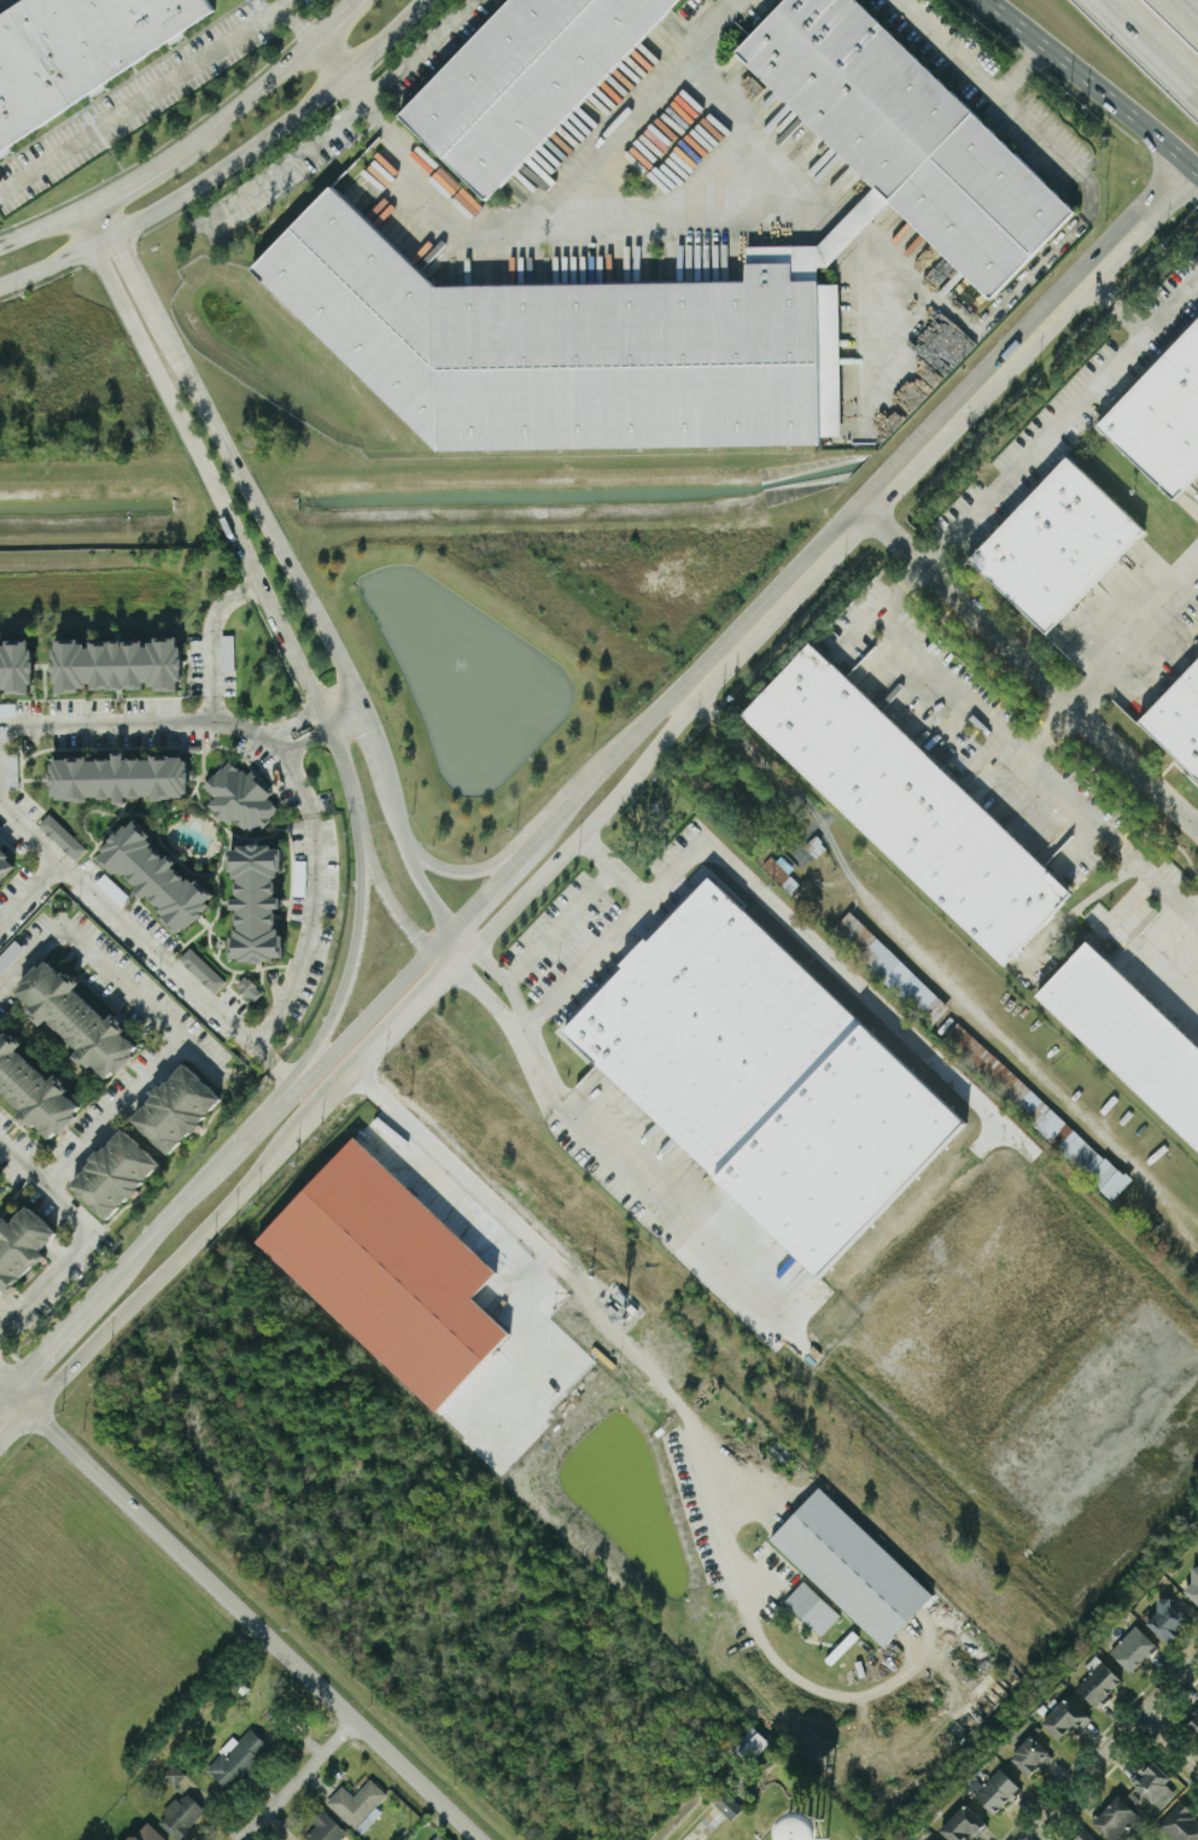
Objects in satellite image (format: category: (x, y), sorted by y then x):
road: (1181, 16)
road: (332, 19)
road: (297, 23)
road: (1162, 35)
road: (423, 42)
building: (76, 49)
road: (326, 54)
building: (522, 78)
road: (1095, 84)
road: (374, 90)
road: (144, 95)
road: (246, 99)
road: (275, 123)
building: (910, 135)
road: (286, 160)
road: (130, 180)
road: (556, 206)
road: (766, 210)
road: (101, 220)
road: (1075, 223)
road: (87, 227)
road: (42, 228)
road: (104, 240)
road: (46, 267)
building: (569, 345)
building: (1162, 416)
road: (942, 425)
road: (1012, 465)
building: (1057, 543)
road: (292, 576)
road: (265, 597)
fountain: (431, 625)
road: (1133, 631)
road: (211, 638)
building: (227, 652)
building: (16, 662)
building: (117, 662)
road: (1030, 666)
fountain: (485, 693)
road: (341, 708)
building: (1177, 718)
road: (1045, 724)
road: (300, 730)
road: (633, 734)
road: (1035, 761)
building: (11, 769)
building: (119, 776)
building: (240, 796)
building: (907, 802)
road: (551, 822)
road: (590, 823)
building: (62, 835)
road: (721, 854)
building: (4, 860)
road: (457, 866)
road: (612, 868)
building: (154, 871)
building: (782, 872)
road: (485, 889)
road: (28, 890)
building: (255, 898)
road: (1118, 909)
road: (1196, 915)
road: (559, 923)
road: (302, 928)
road: (442, 935)
road: (463, 935)
road: (1176, 942)
road: (924, 951)
road: (29, 953)
road: (442, 957)
building: (890, 966)
building: (201, 969)
road: (347, 979)
road: (507, 981)
building: (249, 987)
road: (487, 997)
road: (144, 1001)
road: (364, 1016)
building: (76, 1017)
building: (712, 1026)
road: (393, 1027)
building: (1128, 1034)
road: (884, 1039)
building: (34, 1088)
building: (176, 1108)
road: (111, 1109)
building: (1036, 1109)
road: (264, 1121)
road: (589, 1137)
building: (841, 1145)
building: (115, 1173)
road: (45, 1186)
building: (0, 1193)
road: (1184, 1217)
road: (163, 1220)
road: (1184, 1229)
building: (22, 1244)
road: (566, 1255)
road: (174, 1260)
building: (388, 1271)
road: (45, 1279)
road: (566, 1283)
road: (52, 1337)
road: (4, 1382)
road: (4, 1389)
road: (14, 1423)
building: (851, 1565)
building: (1192, 1585)
building: (811, 1606)
road: (244, 1612)
building: (1167, 1618)
road: (756, 1631)
building: (1133, 1647)
building: (1063, 1717)
building: (1192, 1723)
road: (1169, 1740)
building: (749, 1743)
road: (1108, 1747)
building: (1030, 1756)
building: (238, 1758)
building: (173, 1772)
road: (297, 1778)
building: (1153, 1782)
building: (994, 1789)
building: (357, 1804)
building: (727, 1804)
building: (181, 1815)
building: (1114, 1817)
building: (963, 1823)
building: (1180, 1823)
road: (703, 1826)
building: (325, 1827)
building: (147, 1833)
building: (1082, 1835)
building: (439, 1836)
building: (931, 1839)

